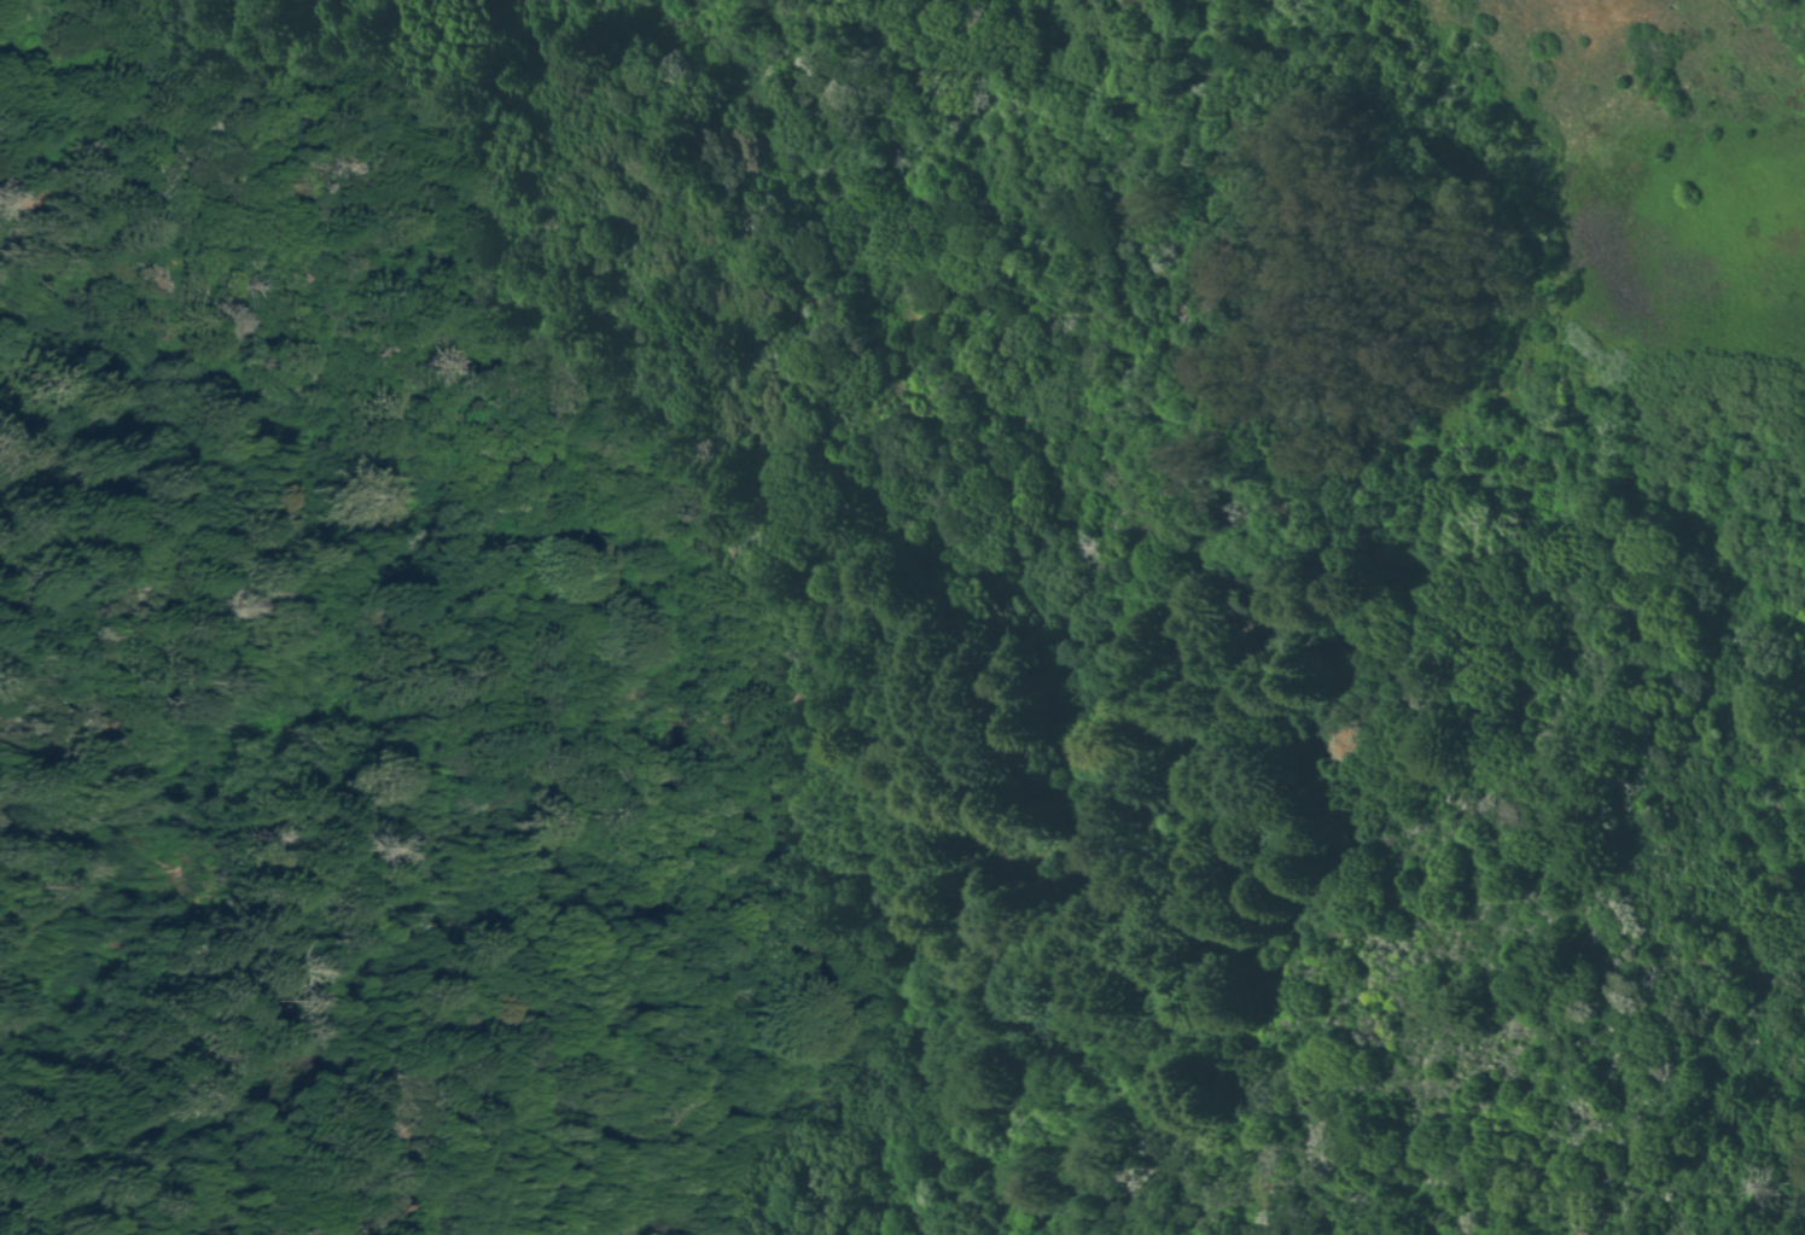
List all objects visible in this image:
road: (1755, 72)

